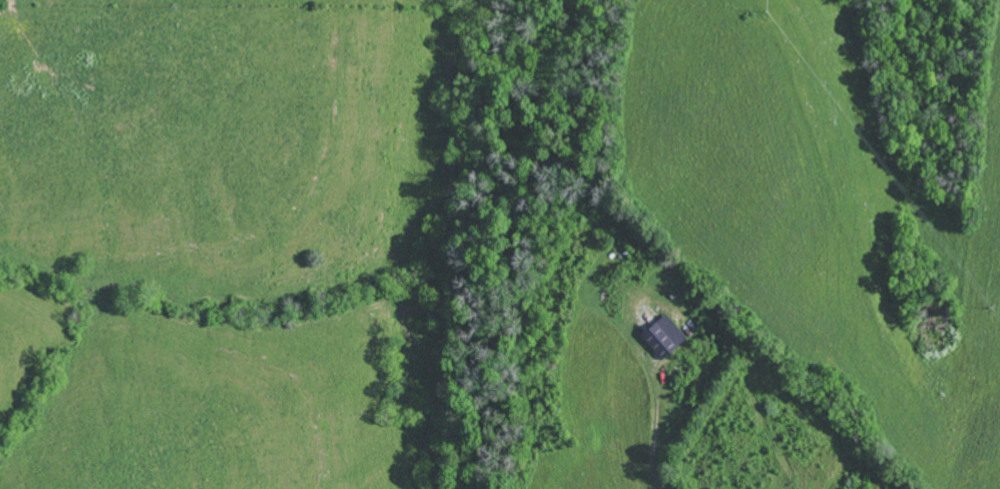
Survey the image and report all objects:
building: (667, 338)

